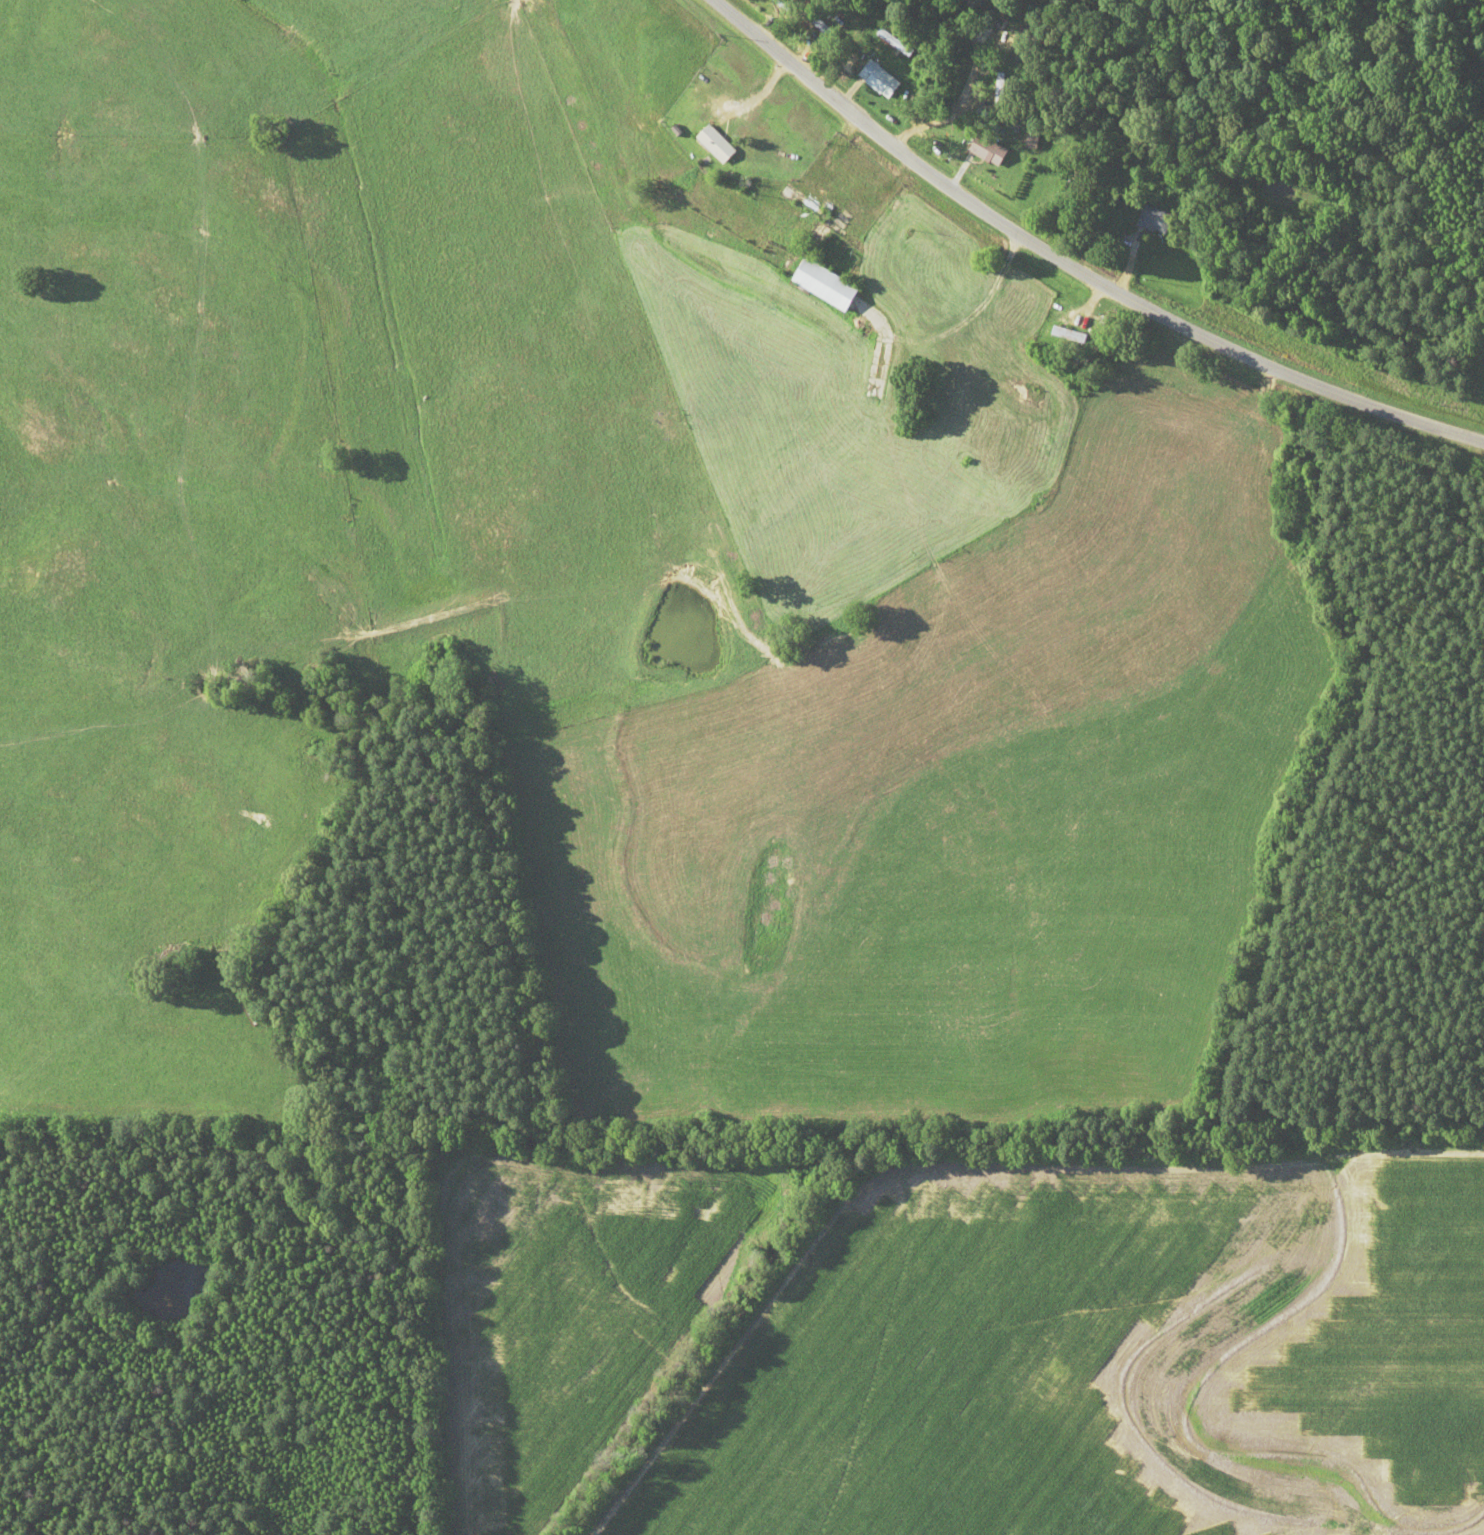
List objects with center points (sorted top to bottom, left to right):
building: (821, 29)
building: (891, 42)
building: (875, 78)
building: (1028, 140)
building: (711, 143)
building: (984, 149)
building: (1151, 218)
road: (1072, 266)
building: (820, 284)
building: (1065, 333)

